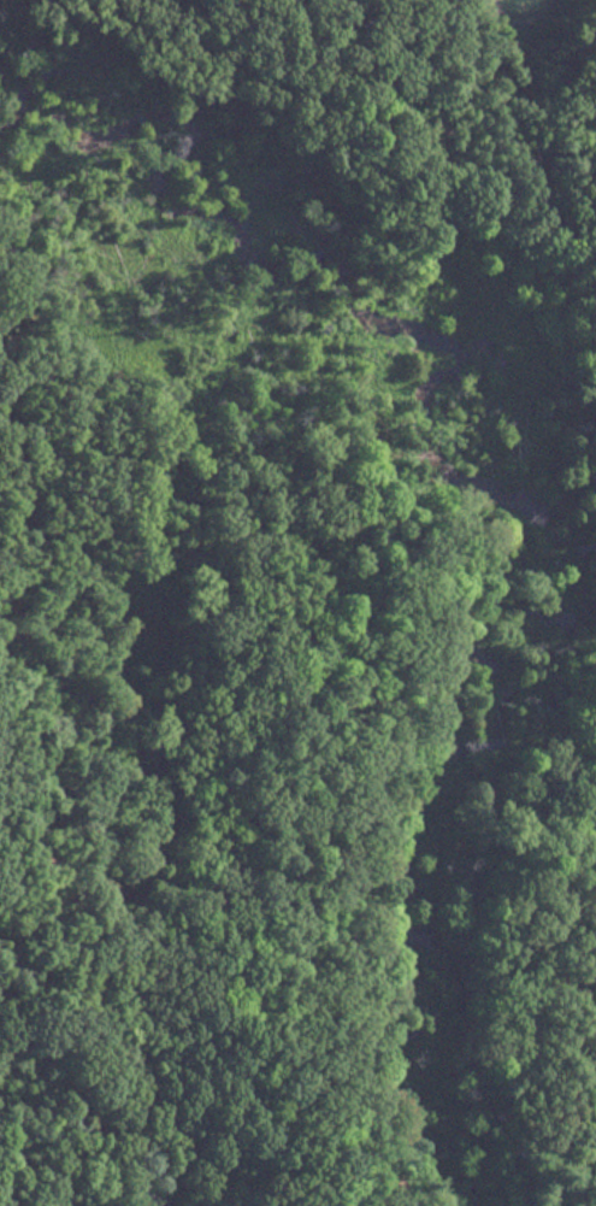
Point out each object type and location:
park: (297, 602)

